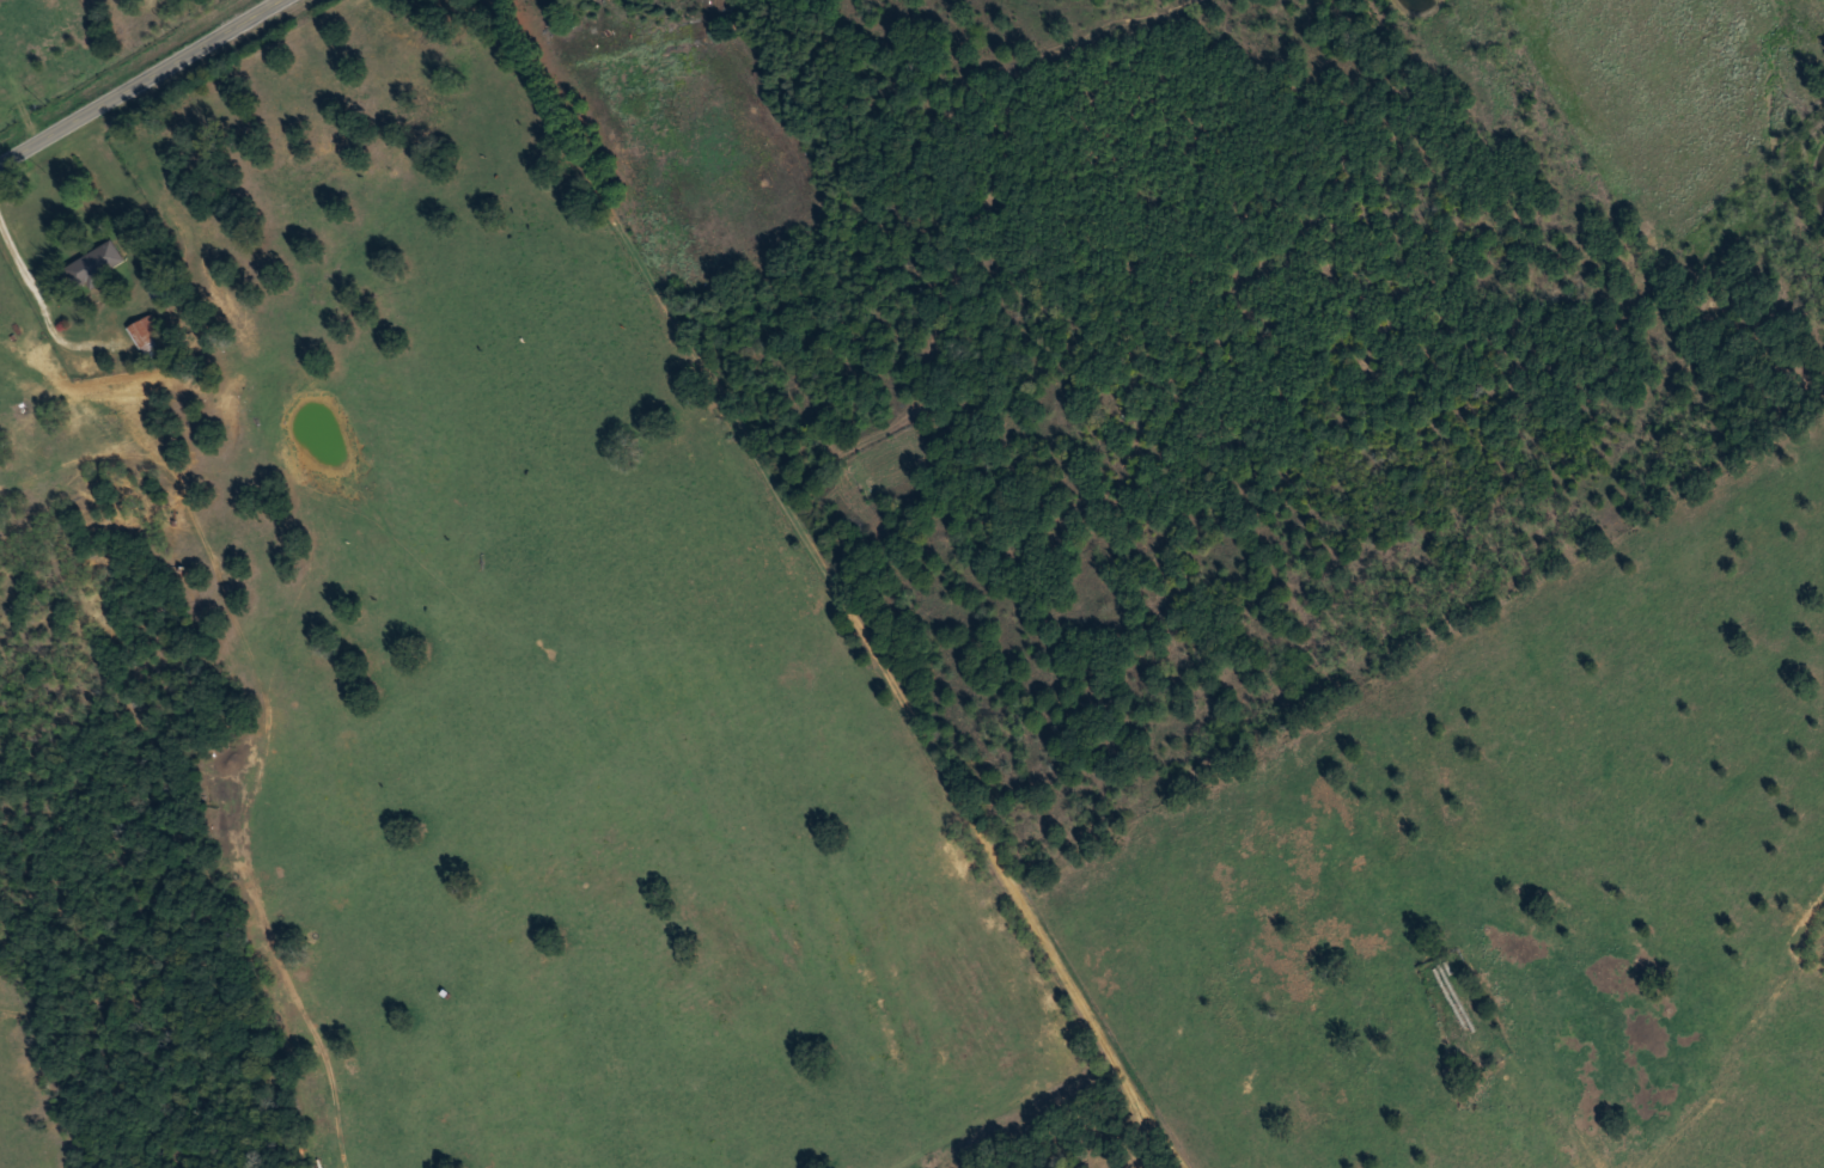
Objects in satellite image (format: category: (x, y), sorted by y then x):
road: (144, 82)
building: (96, 263)
building: (158, 285)
building: (146, 331)
road: (1586, 403)
road: (826, 587)

